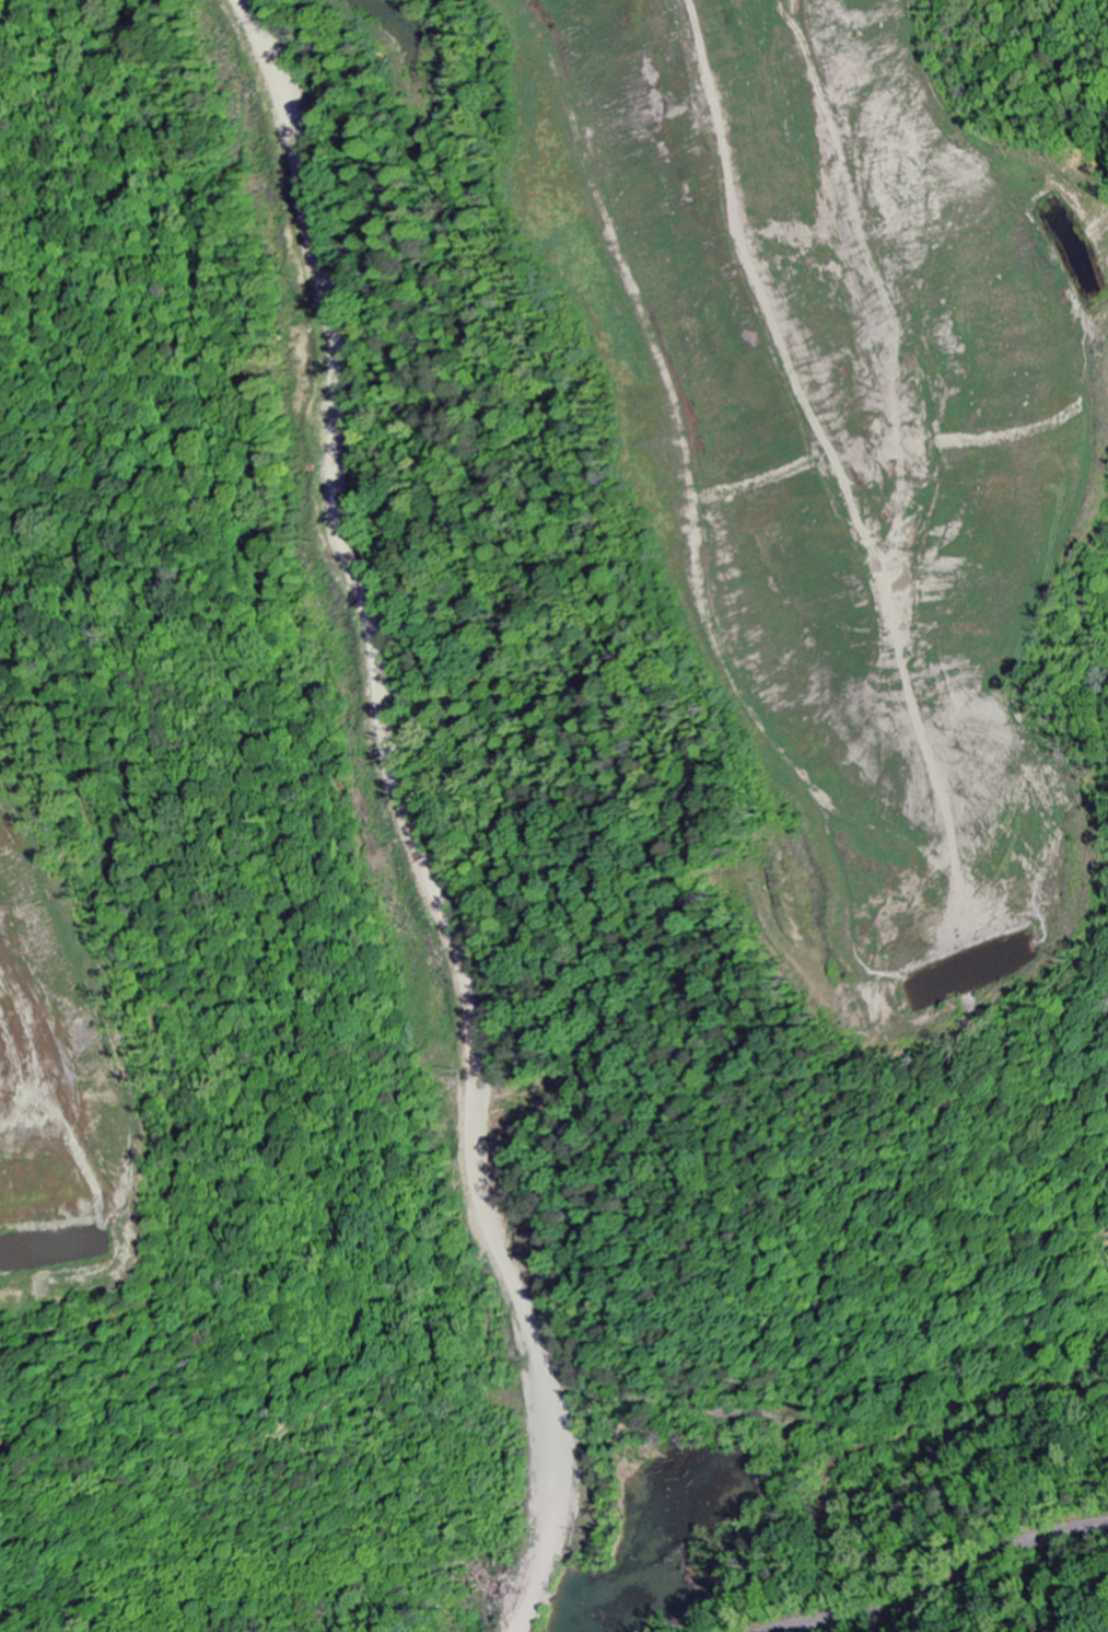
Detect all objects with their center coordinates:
road: (401, 818)
road: (932, 1593)

